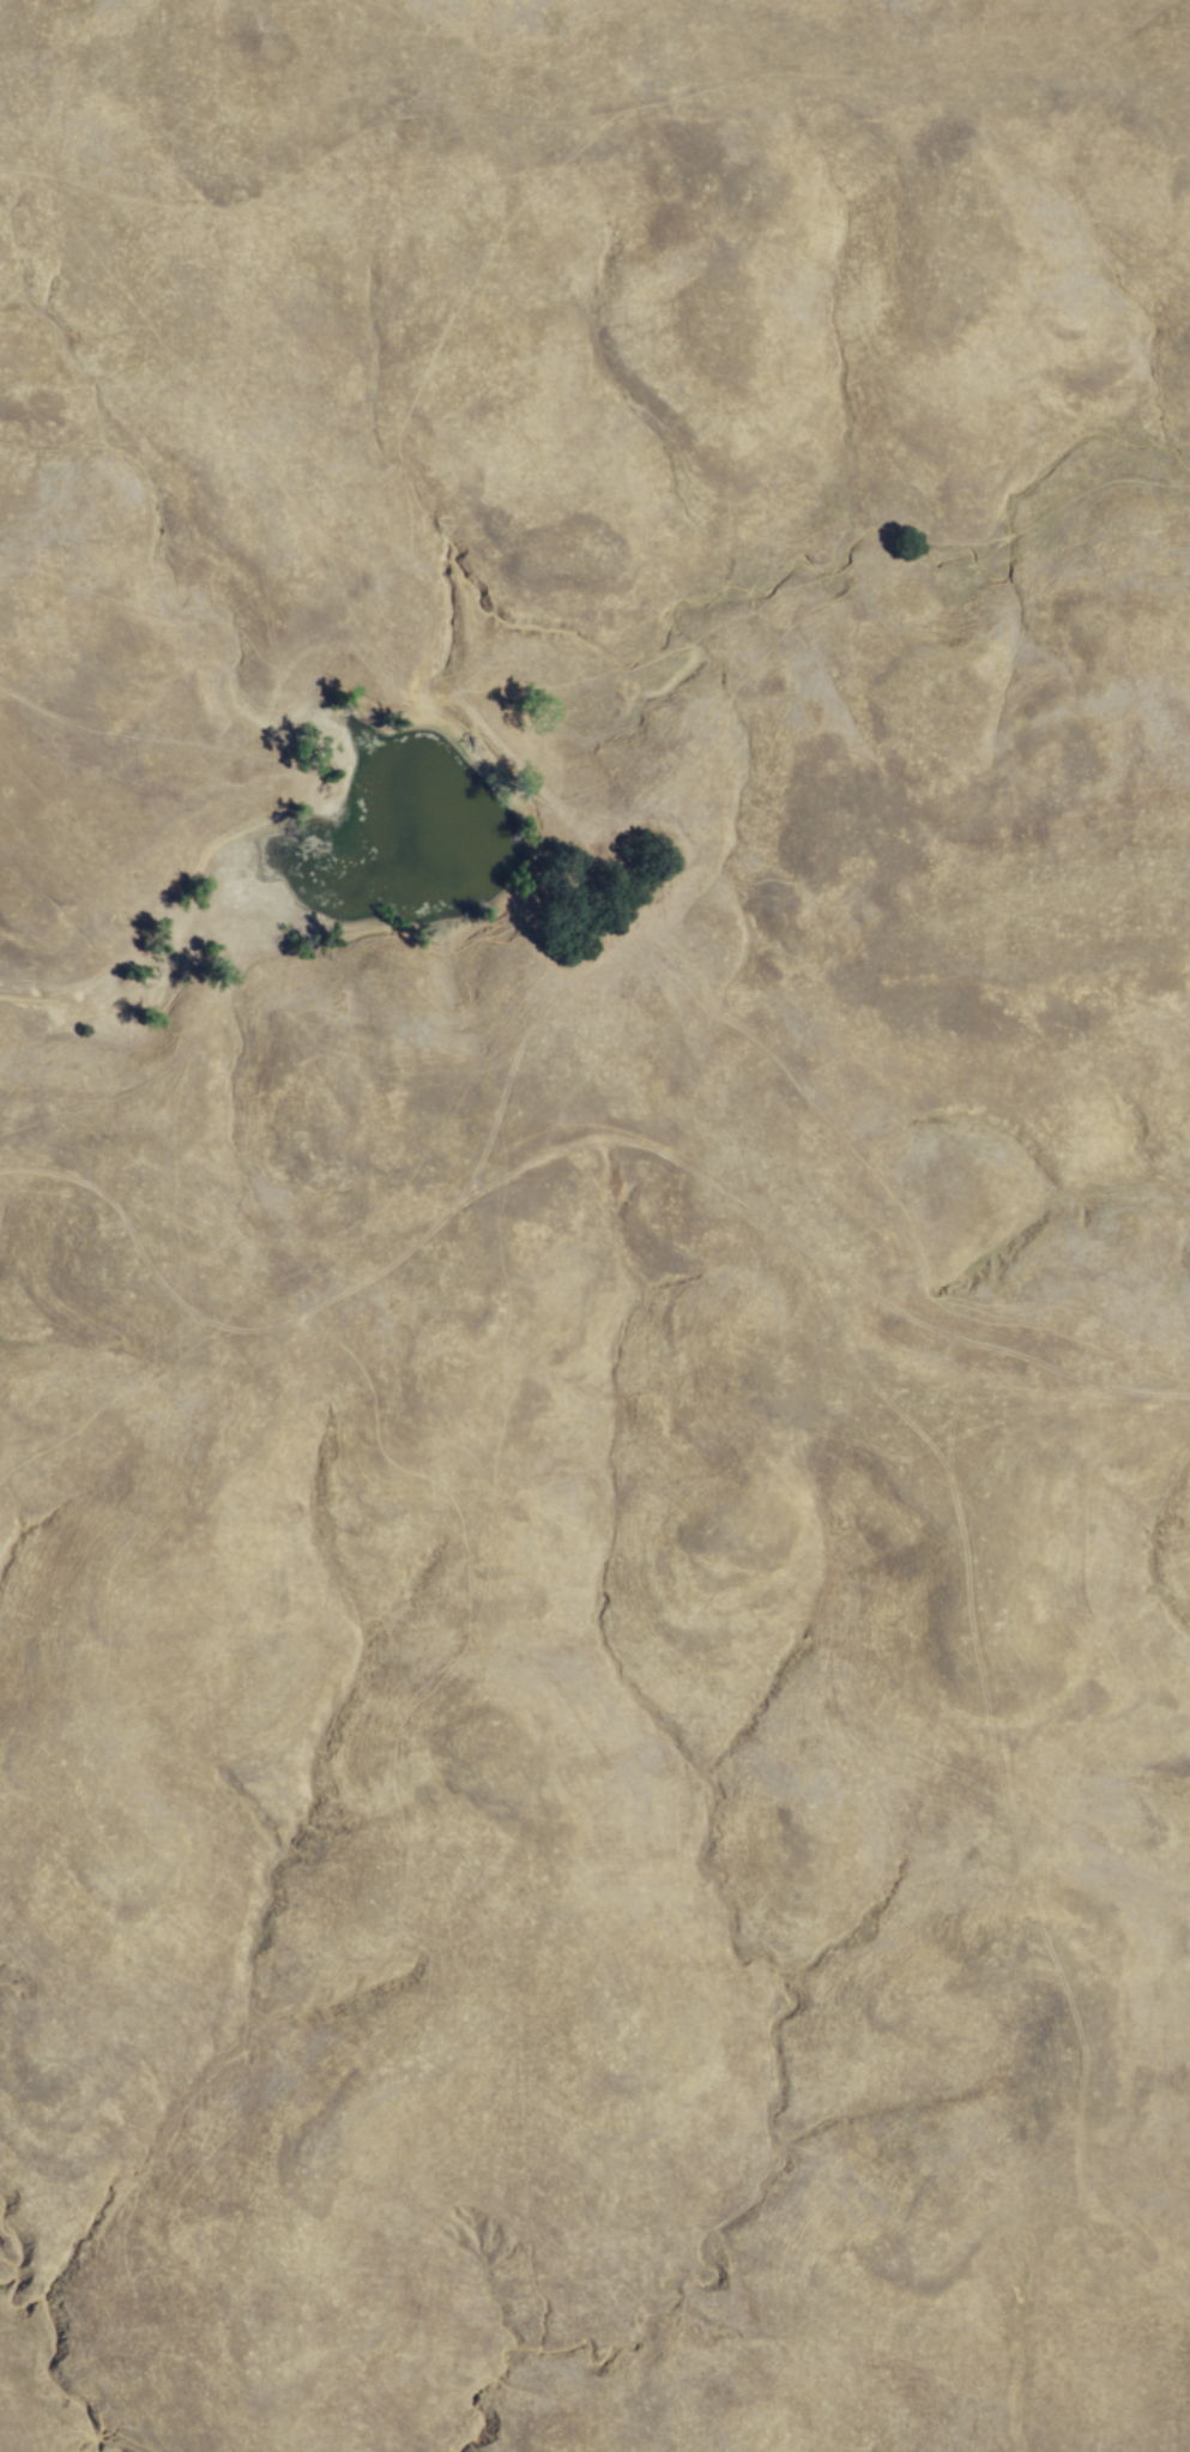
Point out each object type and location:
road: (567, 1153)

